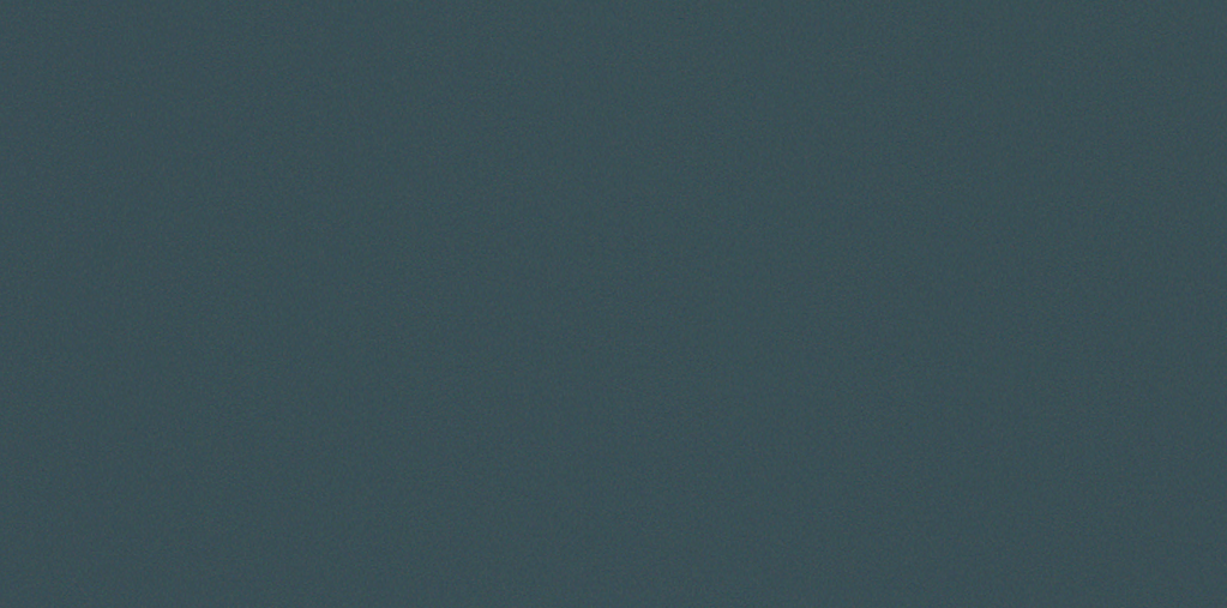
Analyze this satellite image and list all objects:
wastewater plant: (613, 303)

